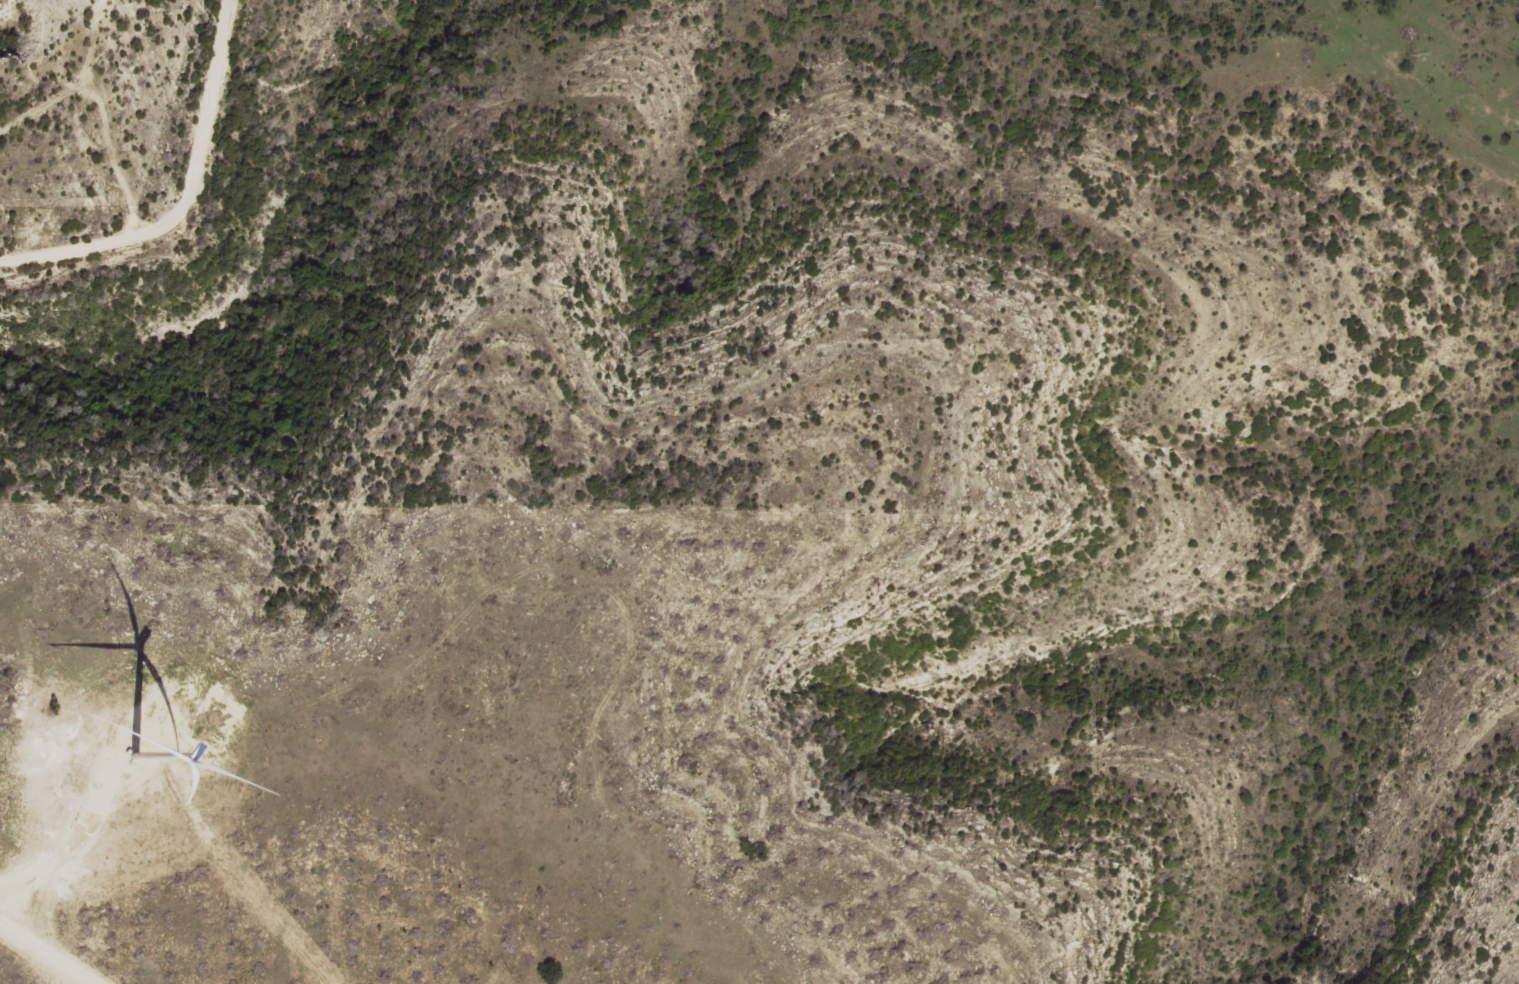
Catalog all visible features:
road: (188, 200)
wind turbine: (132, 751)
road: (107, 919)

